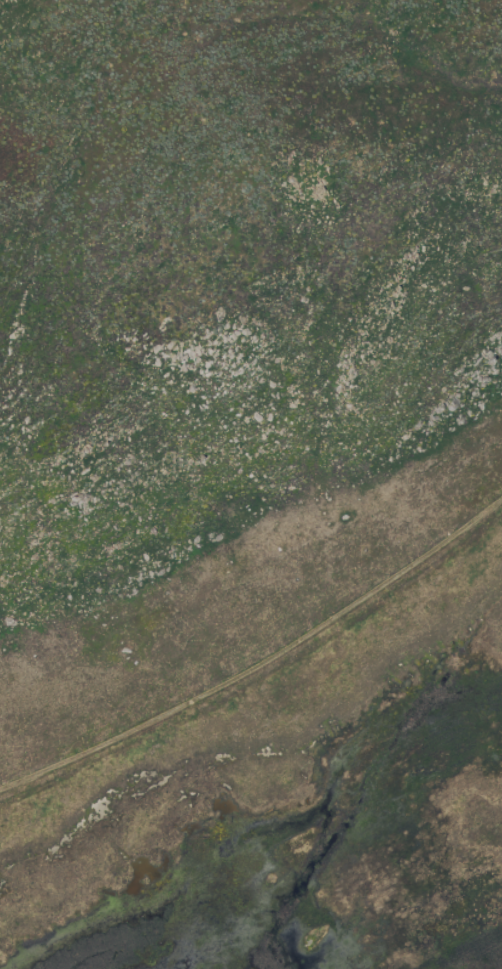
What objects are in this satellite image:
road: (247, 649)

